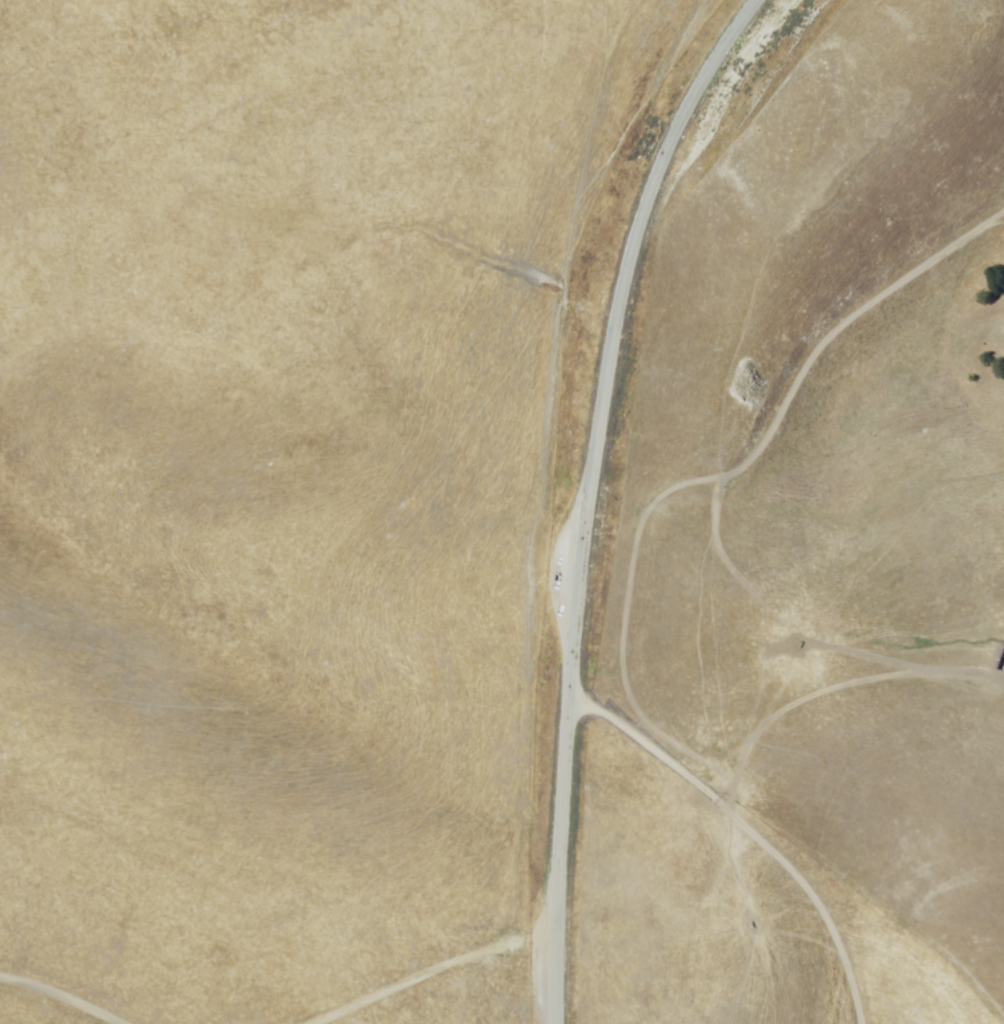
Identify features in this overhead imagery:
road: (591, 456)
road: (633, 567)
road: (623, 728)
road: (417, 974)
road: (552, 984)
road: (53, 1003)

